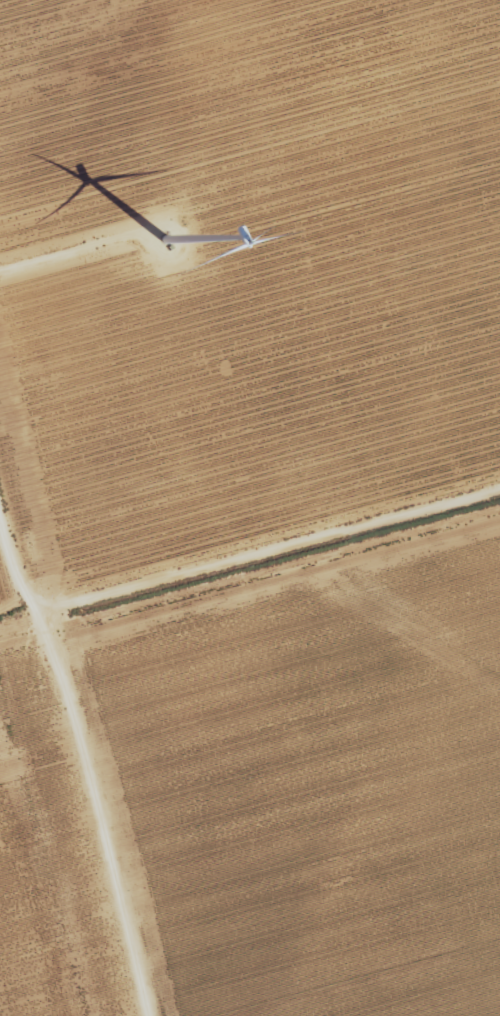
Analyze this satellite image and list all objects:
wind turbine: (165, 241)
road: (86, 767)

